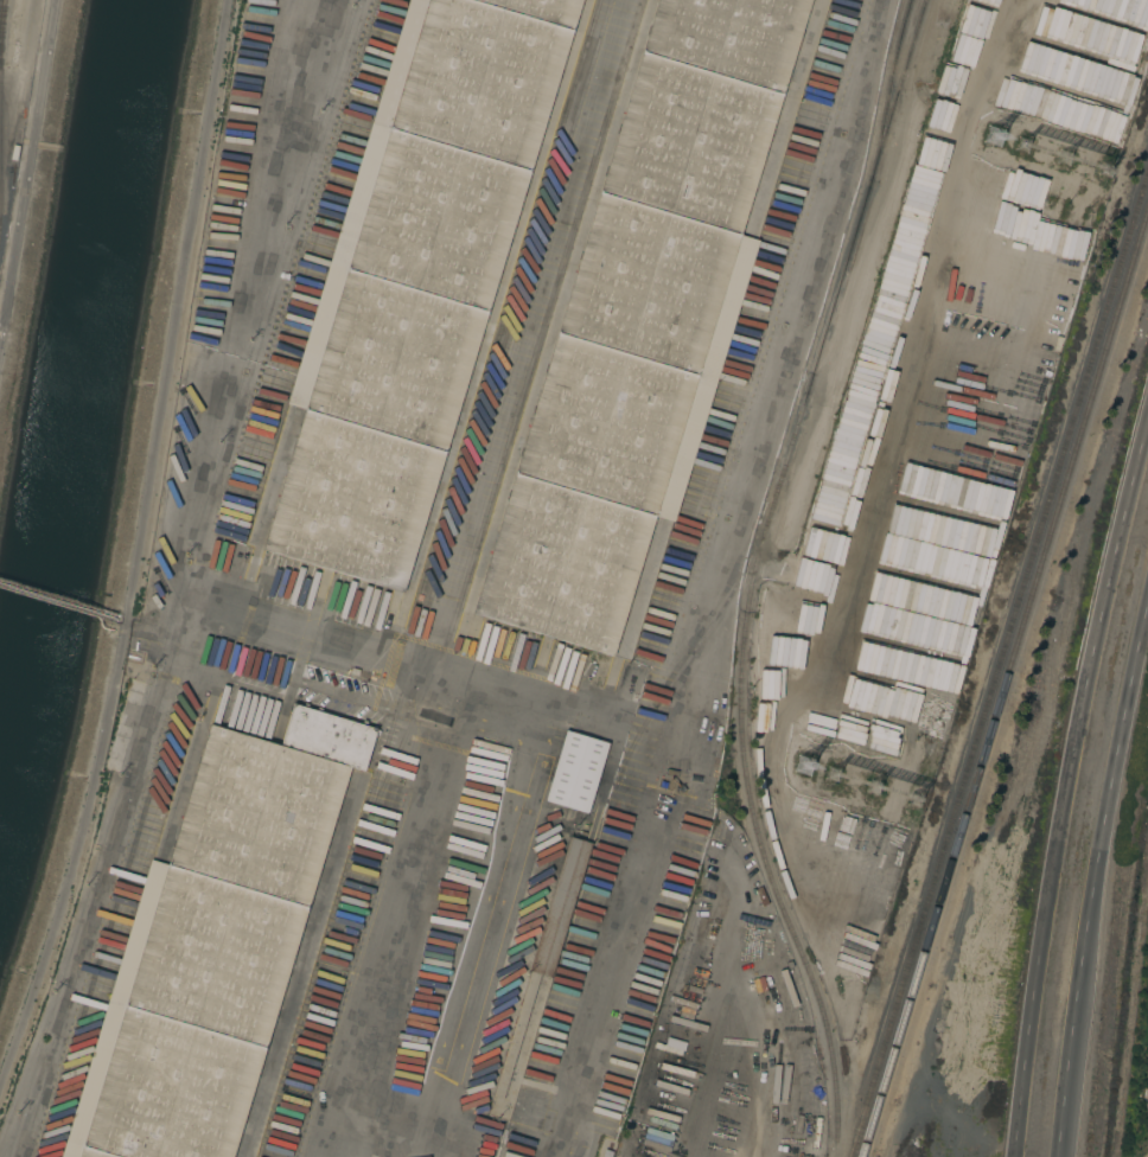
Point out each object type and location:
railway: (2, 31)
railway: (891, 90)
railway: (0, 113)
power tower: (1010, 134)
power tower: (1050, 149)
power tower: (1078, 154)
power tower: (1105, 156)
road: (21, 187)
railway: (853, 243)
building: (414, 280)
railway: (511, 295)
road: (254, 298)
building: (642, 320)
road: (778, 372)
railway: (514, 427)
road: (132, 541)
railway: (434, 578)
railway: (708, 632)
building: (136, 651)
railway: (997, 658)
road: (397, 660)
railway: (1002, 678)
building: (225, 716)
building: (709, 722)
building: (704, 755)
power tower: (817, 759)
building: (575, 773)
power tower: (861, 776)
road: (1066, 780)
power tower: (894, 788)
power tower: (919, 790)
building: (626, 814)
building: (557, 825)
railway: (757, 825)
building: (617, 863)
road: (1095, 876)
road: (725, 878)
building: (559, 907)
road: (398, 921)
road: (489, 940)
building: (213, 944)
road: (723, 1033)
road: (768, 1075)
building: (473, 1117)
building: (605, 1152)
road: (384, 1156)
road: (384, 1156)

